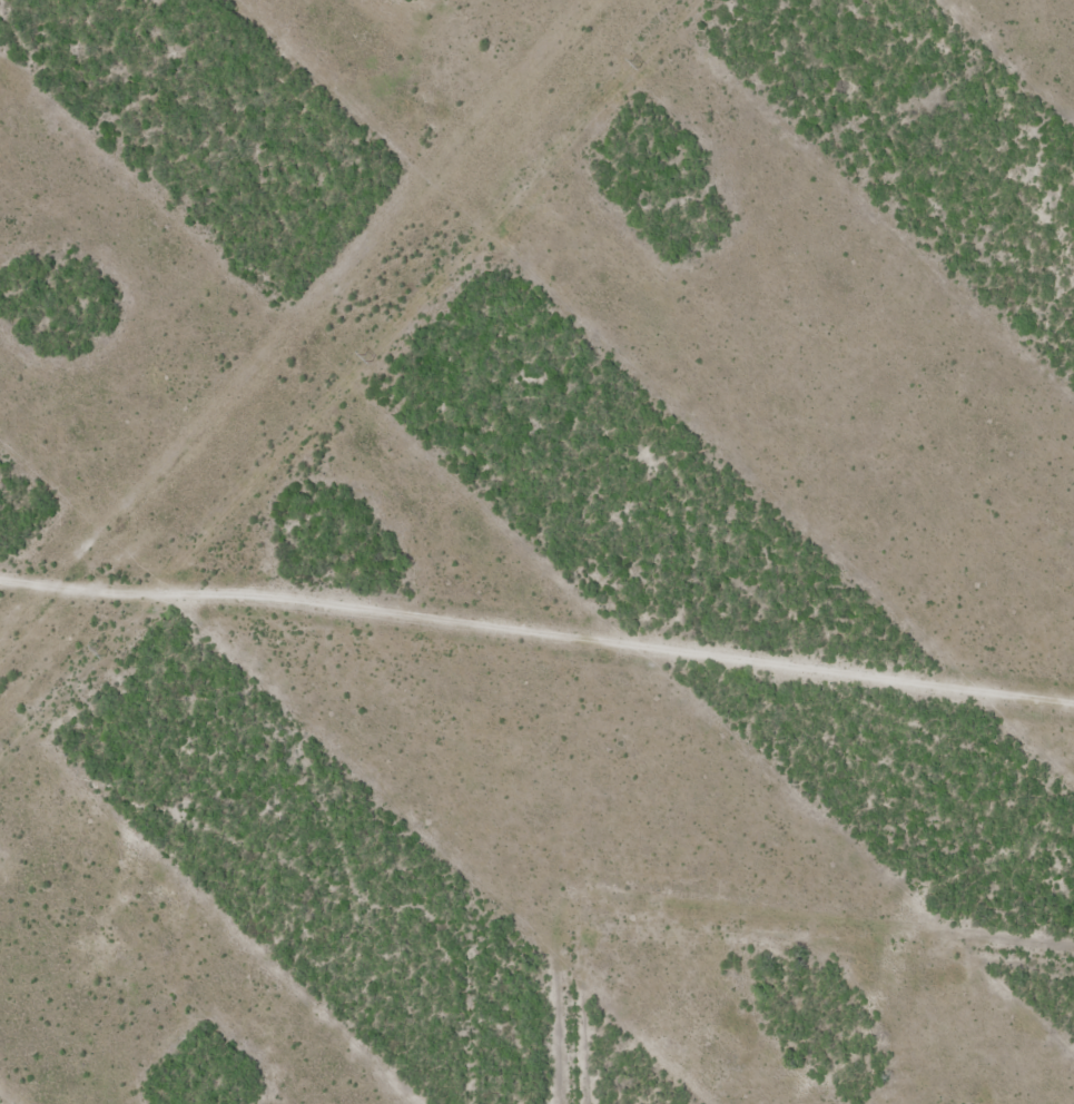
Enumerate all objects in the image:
power tower: (633, 63)
power tower: (367, 357)
power tower: (100, 651)

